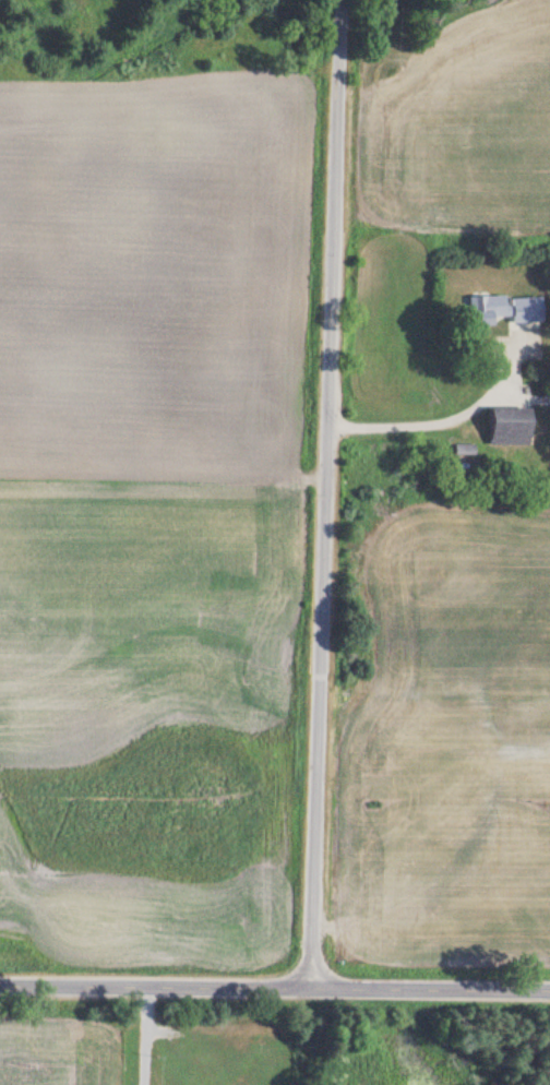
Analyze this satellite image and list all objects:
building: (483, 310)
road: (414, 426)
building: (505, 428)
road: (320, 494)
road: (274, 989)
road: (144, 1035)

